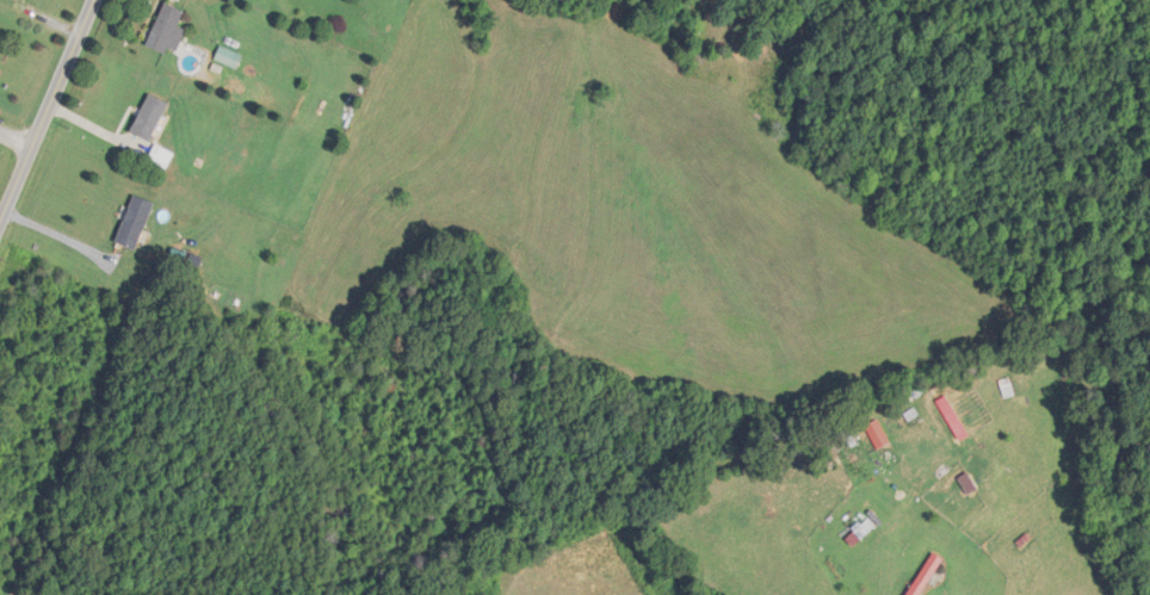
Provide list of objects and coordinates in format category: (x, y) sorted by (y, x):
road: (959, 19)
building: (167, 31)
building: (228, 57)
road: (43, 106)
building: (149, 117)
road: (12, 145)
building: (160, 157)
building: (134, 221)
road: (56, 234)
building: (925, 575)

